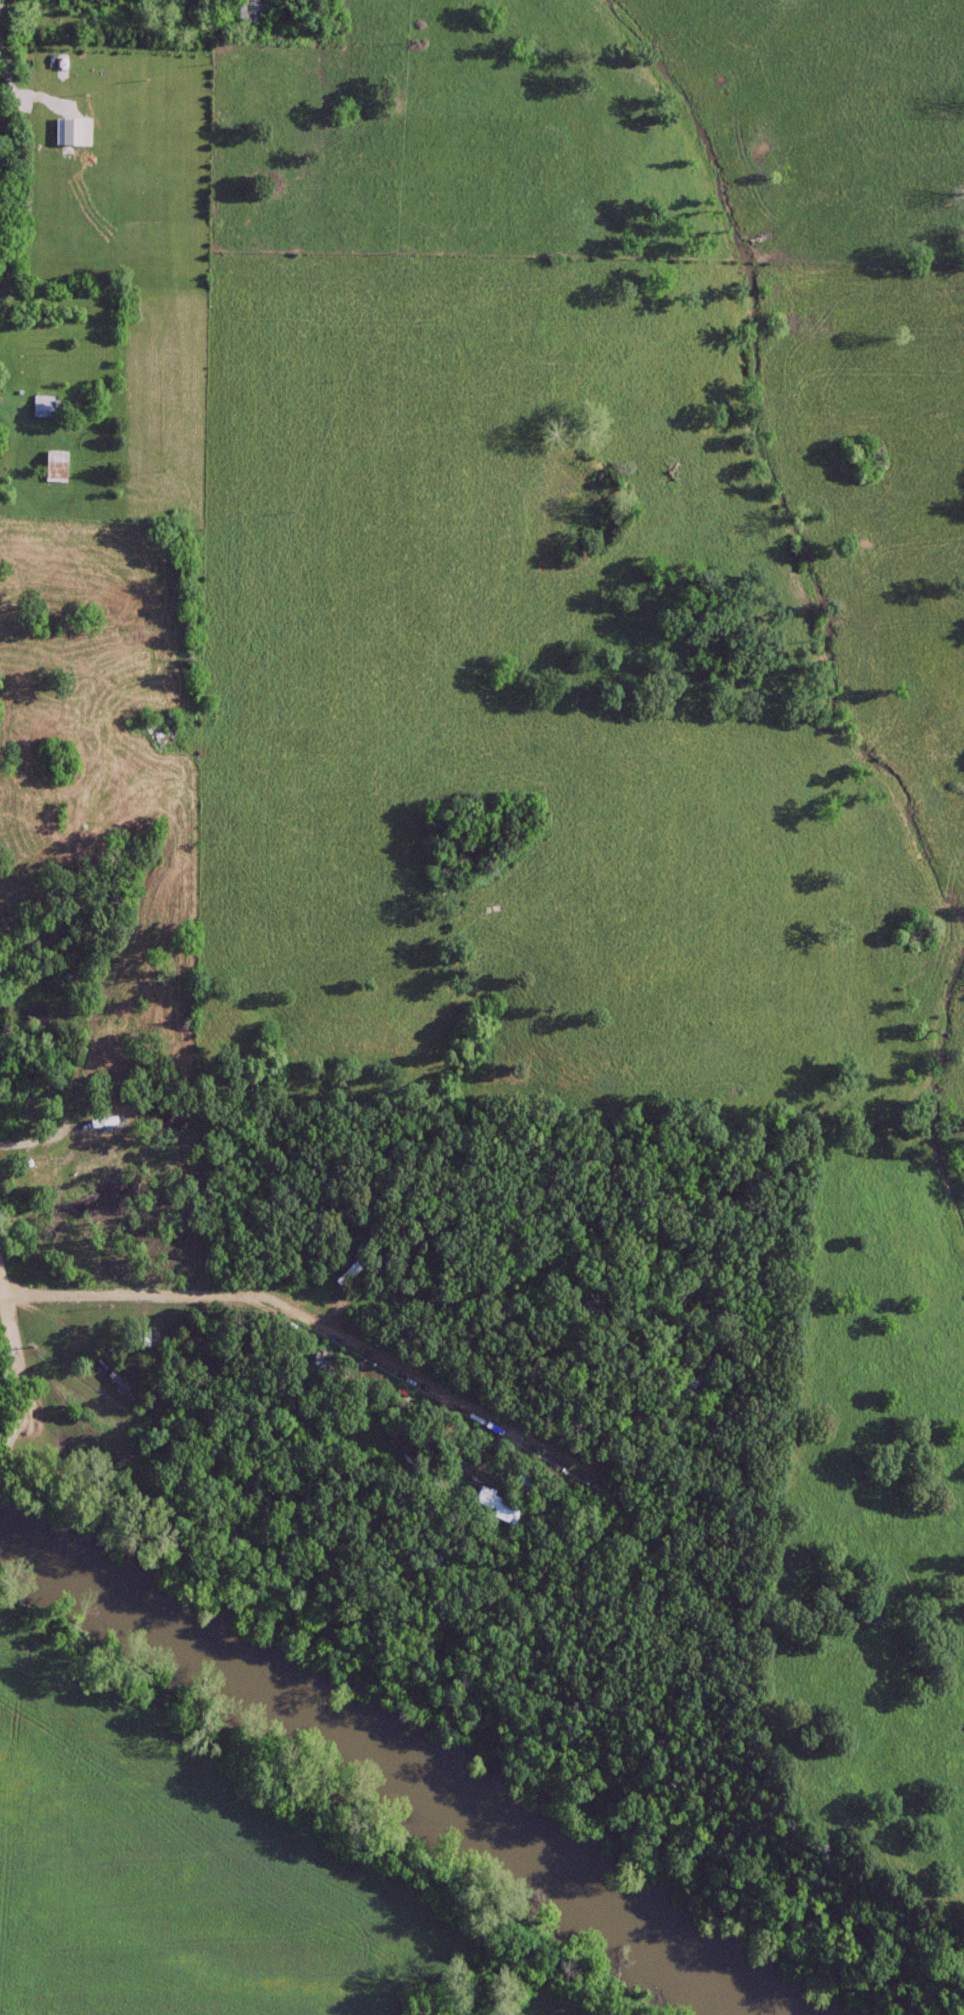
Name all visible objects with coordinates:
road: (2, 6)
building: (246, 10)
road: (131, 19)
building: (41, 408)
building: (52, 468)
road: (787, 780)
building: (89, 1131)
building: (349, 1271)
road: (298, 1300)
building: (312, 1363)
road: (13, 1365)
building: (112, 1381)
building: (395, 1442)
building: (490, 1505)

